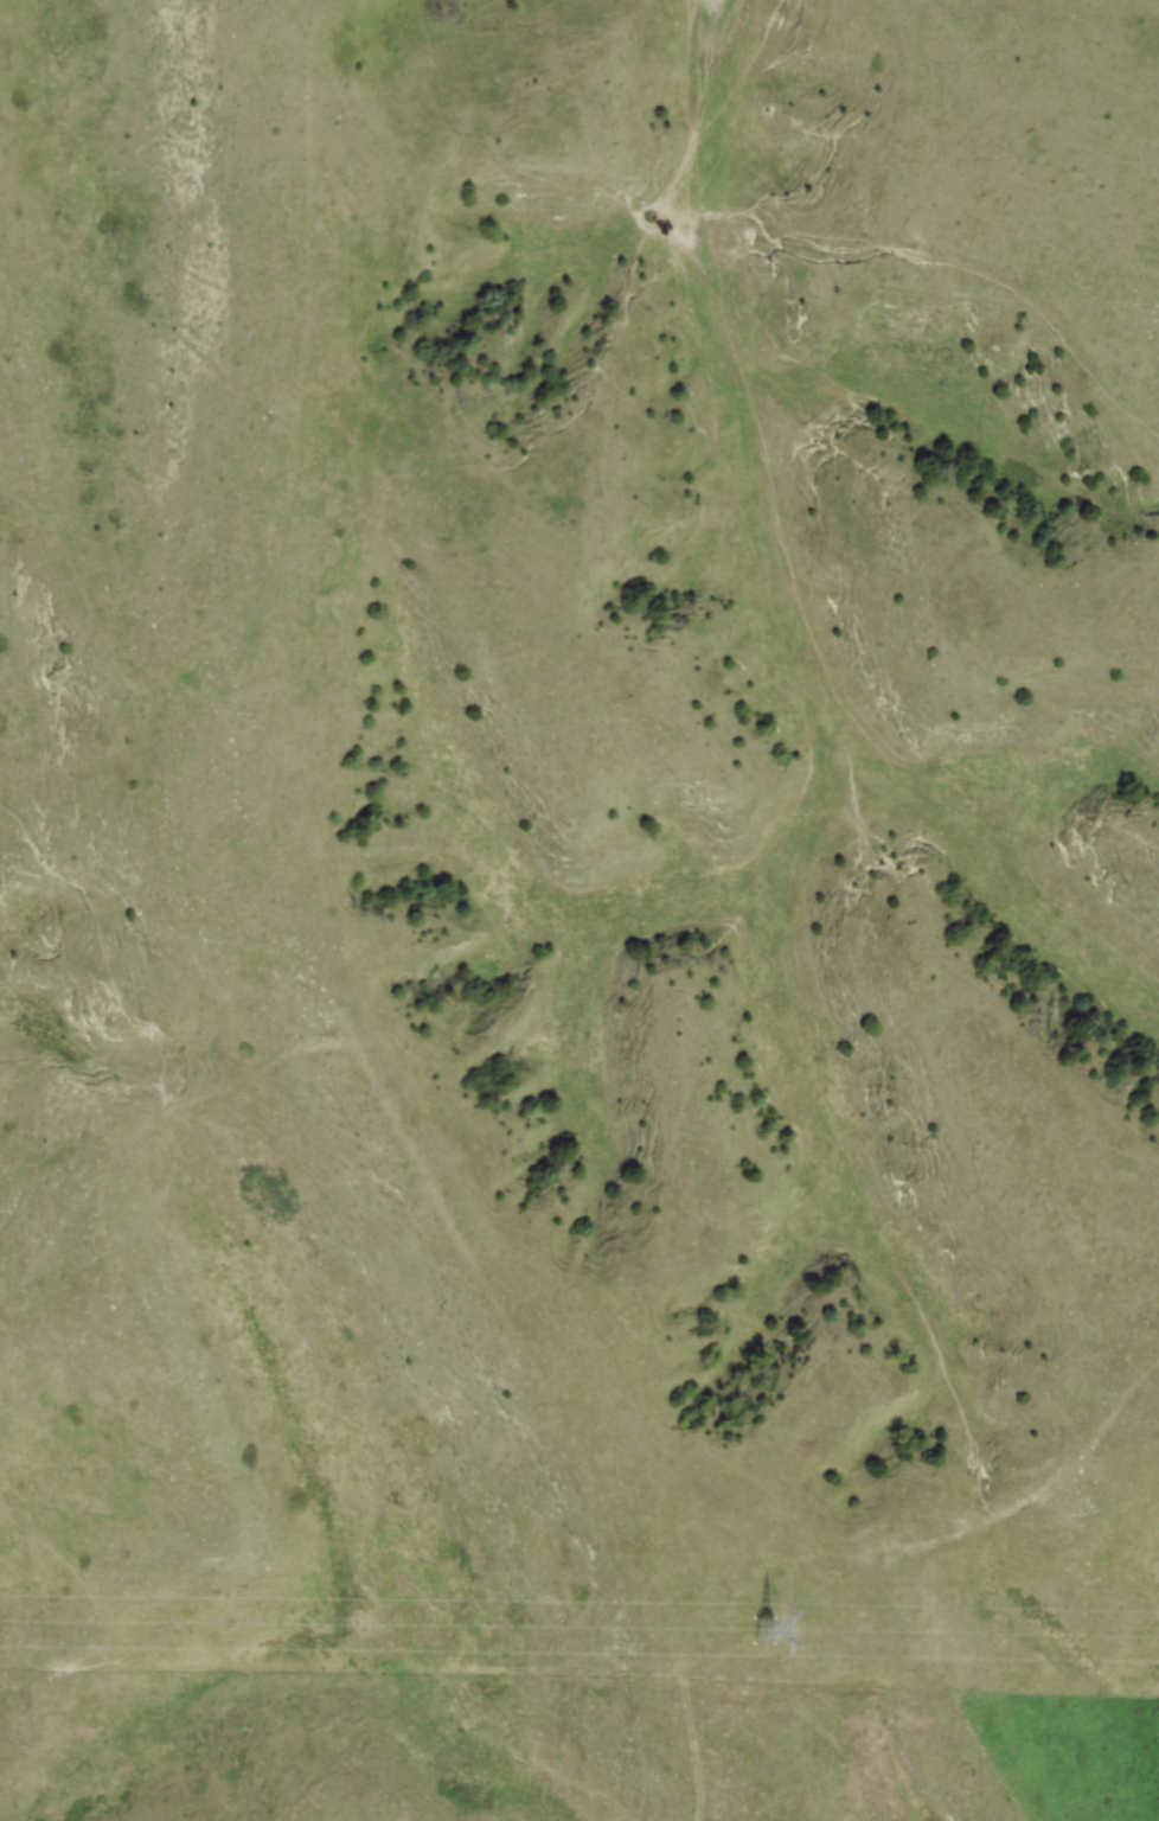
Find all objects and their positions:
power tower: (763, 1632)

